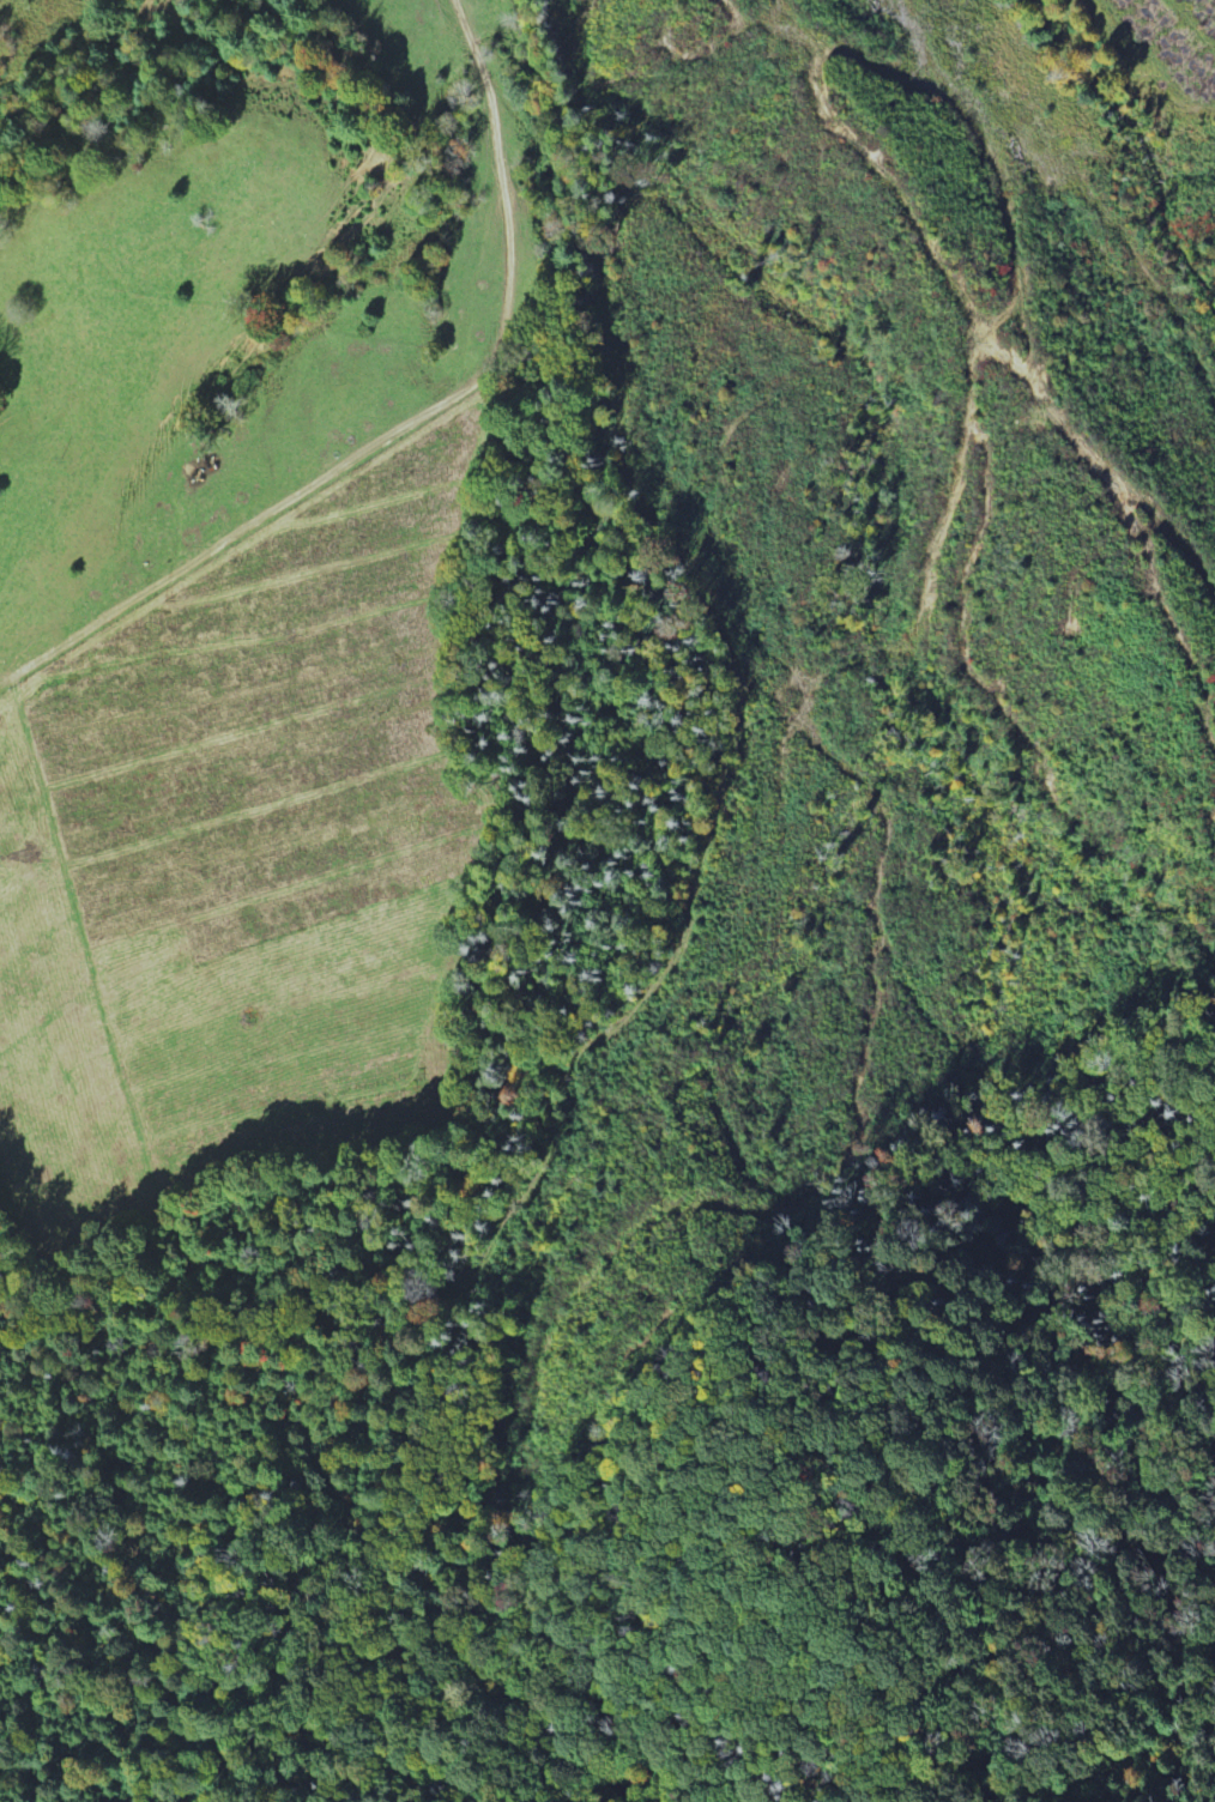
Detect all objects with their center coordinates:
road: (682, 936)
road: (658, 1779)

